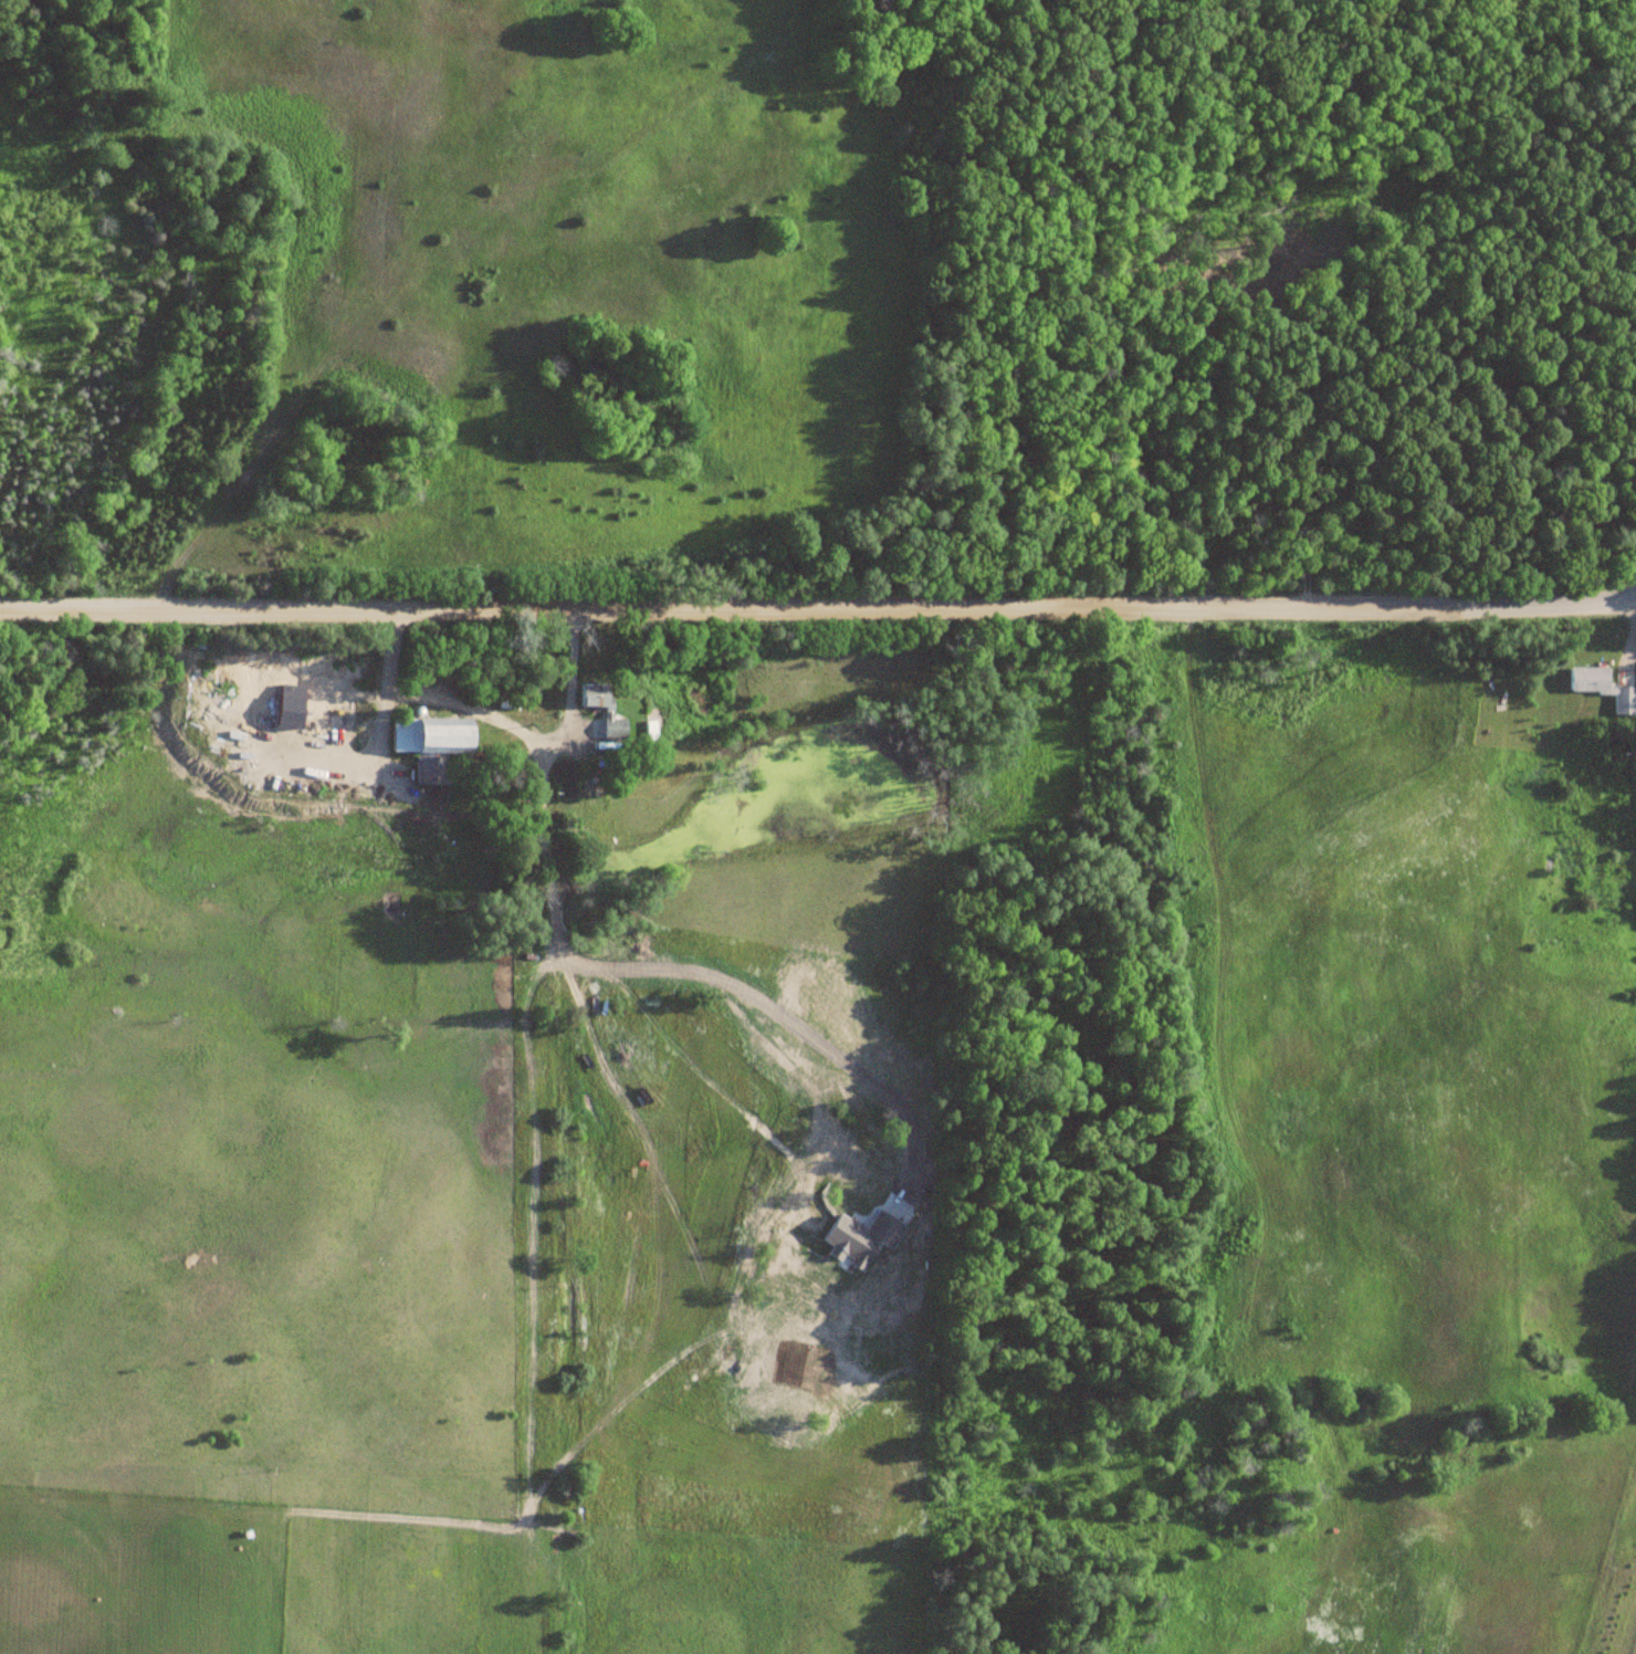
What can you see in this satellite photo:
road: (818, 608)
building: (1603, 688)
building: (609, 713)
building: (432, 745)

